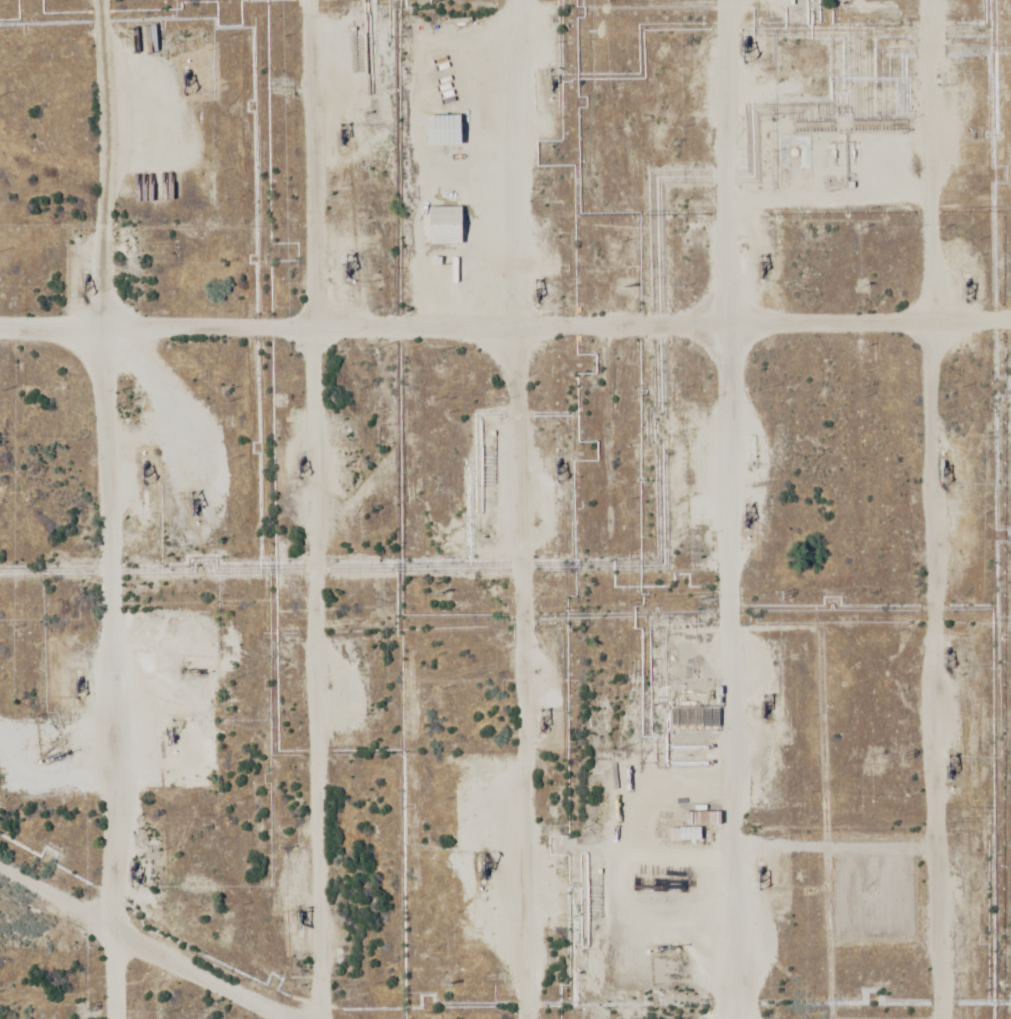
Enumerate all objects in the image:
building: (444, 131)
building: (445, 227)
road: (503, 371)
road: (488, 509)
road: (731, 509)
road: (892, 509)
road: (48, 510)
road: (283, 510)
building: (684, 835)
helipad: (709, 887)
road: (81, 975)

